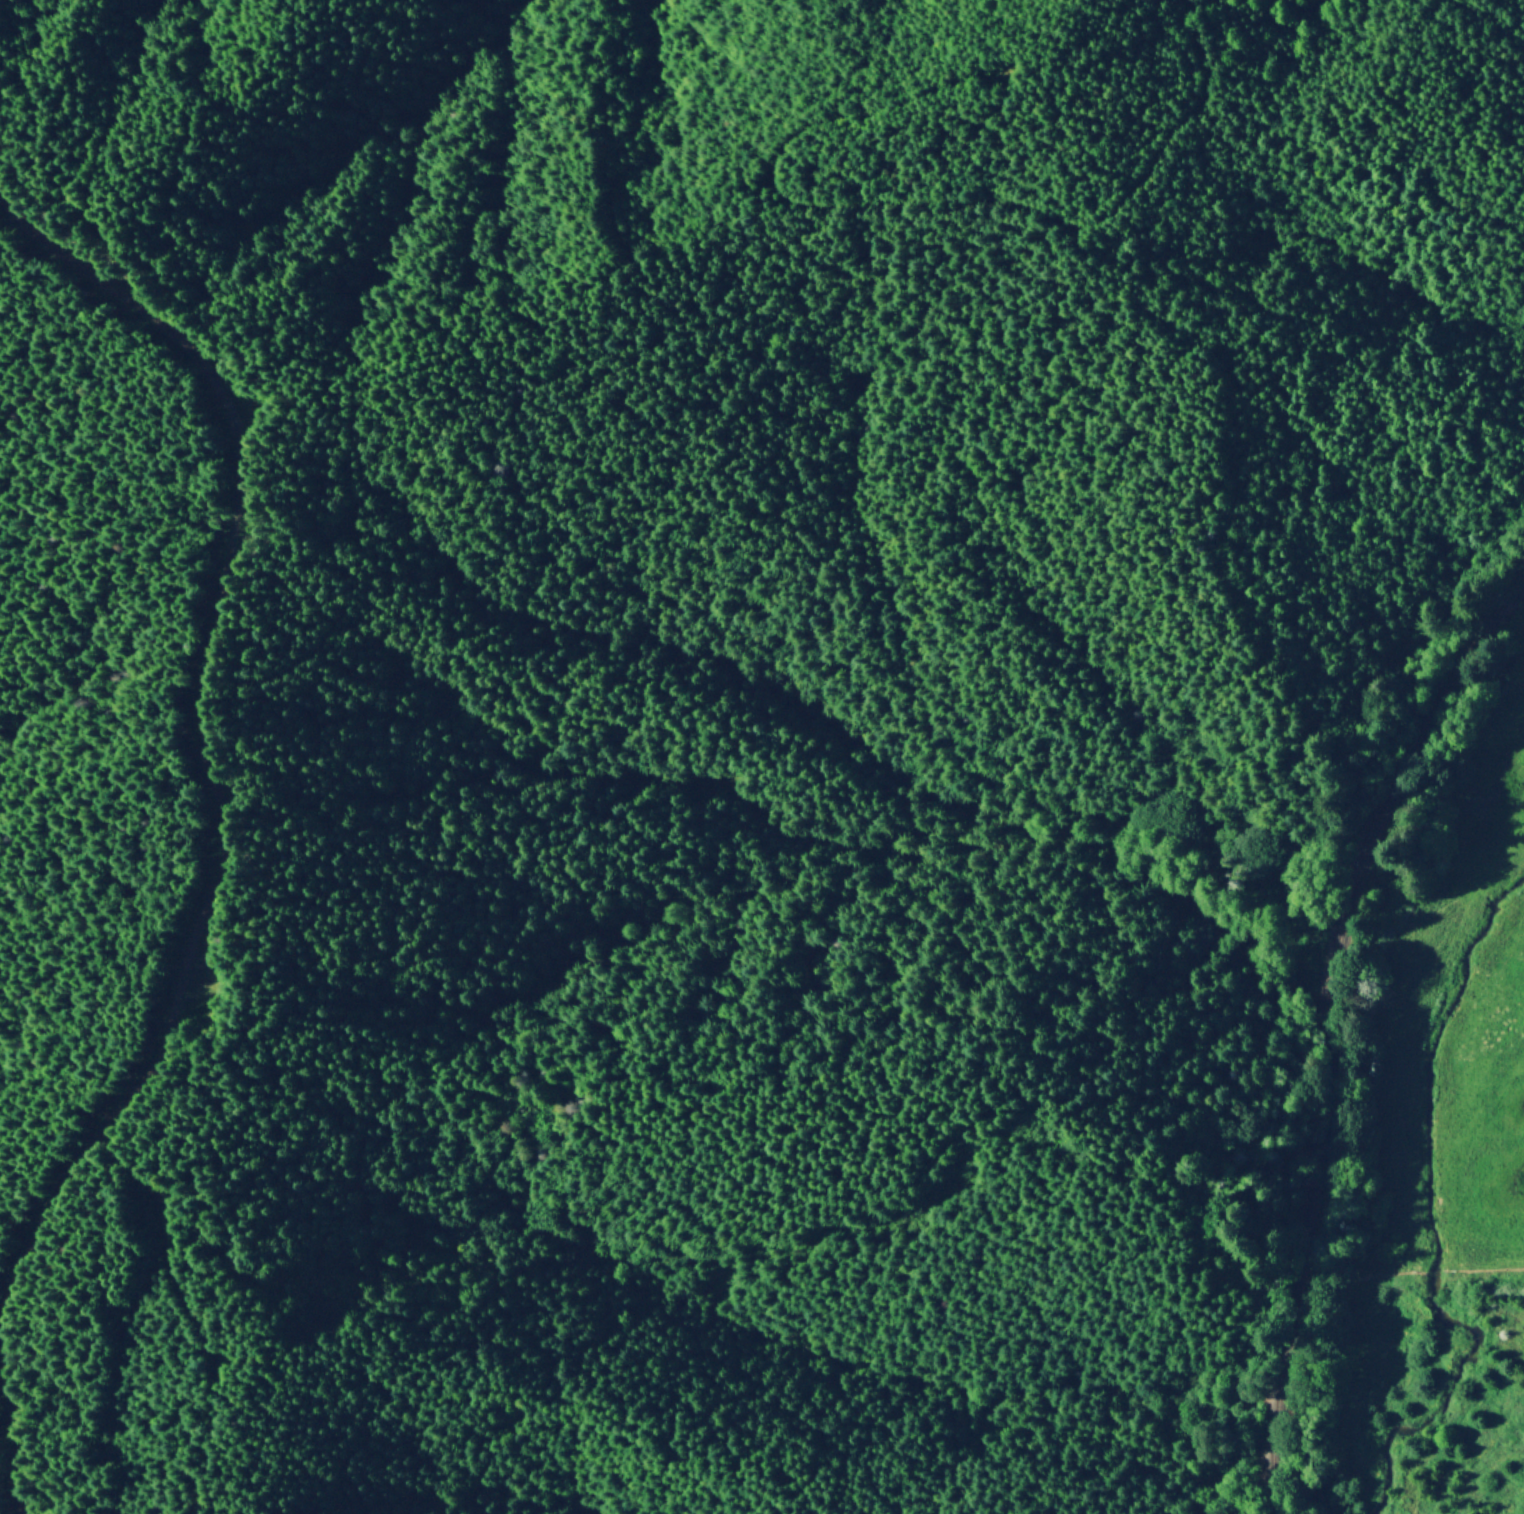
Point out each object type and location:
railway: (1356, 1055)

